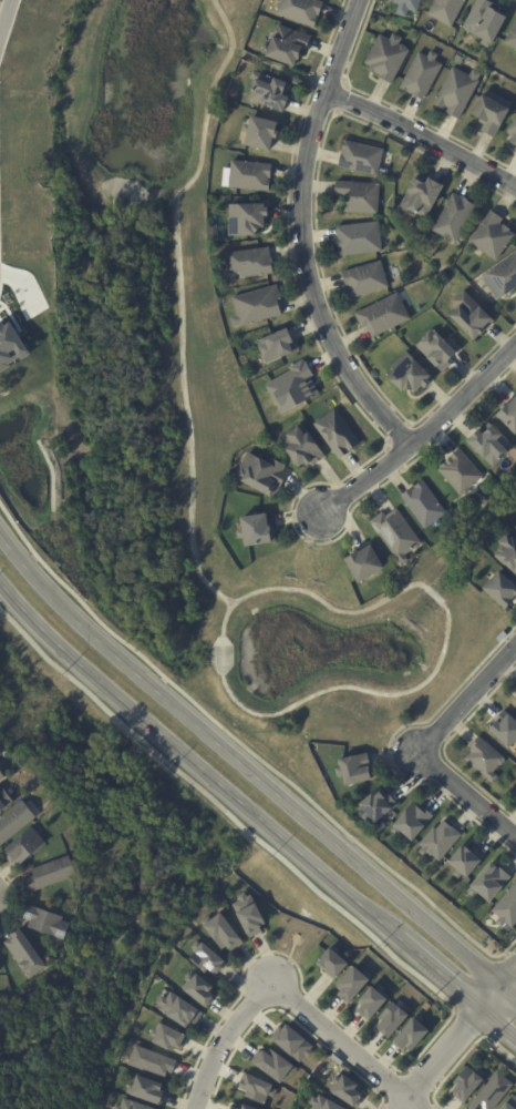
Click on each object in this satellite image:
building: (56, 2)
building: (404, 6)
building: (302, 10)
building: (445, 10)
road: (4, 13)
building: (484, 22)
building: (510, 37)
building: (288, 42)
building: (457, 57)
building: (385, 58)
building: (420, 75)
building: (271, 92)
building: (456, 92)
building: (488, 115)
building: (512, 130)
building: (262, 133)
road: (422, 140)
building: (515, 150)
building: (359, 156)
road: (86, 176)
building: (252, 176)
building: (358, 195)
building: (420, 195)
building: (249, 218)
building: (453, 218)
road: (301, 233)
building: (491, 237)
building: (357, 238)
building: (403, 244)
building: (252, 263)
building: (502, 278)
building: (363, 279)
road: (180, 303)
building: (258, 306)
building: (381, 316)
building: (468, 316)
building: (10, 345)
building: (279, 346)
building: (435, 349)
building: (406, 373)
building: (295, 388)
park: (186, 414)
building: (507, 415)
building: (338, 434)
road: (421, 435)
building: (487, 445)
building: (303, 448)
building: (458, 471)
building: (262, 475)
building: (422, 505)
building: (256, 530)
building: (395, 535)
building: (506, 553)
building: (361, 563)
building: (499, 590)
building: (500, 637)
road: (466, 699)
building: (515, 701)
building: (515, 702)
road: (239, 709)
building: (503, 729)
building: (483, 759)
building: (354, 769)
road: (251, 774)
building: (2, 776)
building: (515, 792)
road: (466, 794)
building: (4, 802)
building: (373, 807)
road: (254, 814)
building: (410, 822)
building: (16, 823)
building: (437, 842)
building: (25, 847)
building: (463, 863)
building: (51, 876)
building: (486, 883)
building: (506, 909)
building: (251, 916)
building: (50, 923)
building: (224, 932)
building: (28, 955)
building: (208, 959)
building: (332, 962)
building: (354, 985)
building: (202, 990)
road: (288, 990)
building: (372, 1003)
building: (182, 1010)
building: (391, 1019)
building: (414, 1036)
building: (168, 1037)
road: (460, 1037)
building: (291, 1041)
building: (152, 1060)
building: (274, 1064)
building: (467, 1082)
building: (257, 1088)
building: (146, 1089)
building: (347, 1089)
building: (491, 1092)
building: (323, 1102)
building: (508, 1103)
building: (131, 1105)
building: (249, 1107)
building: (235, 1108)

